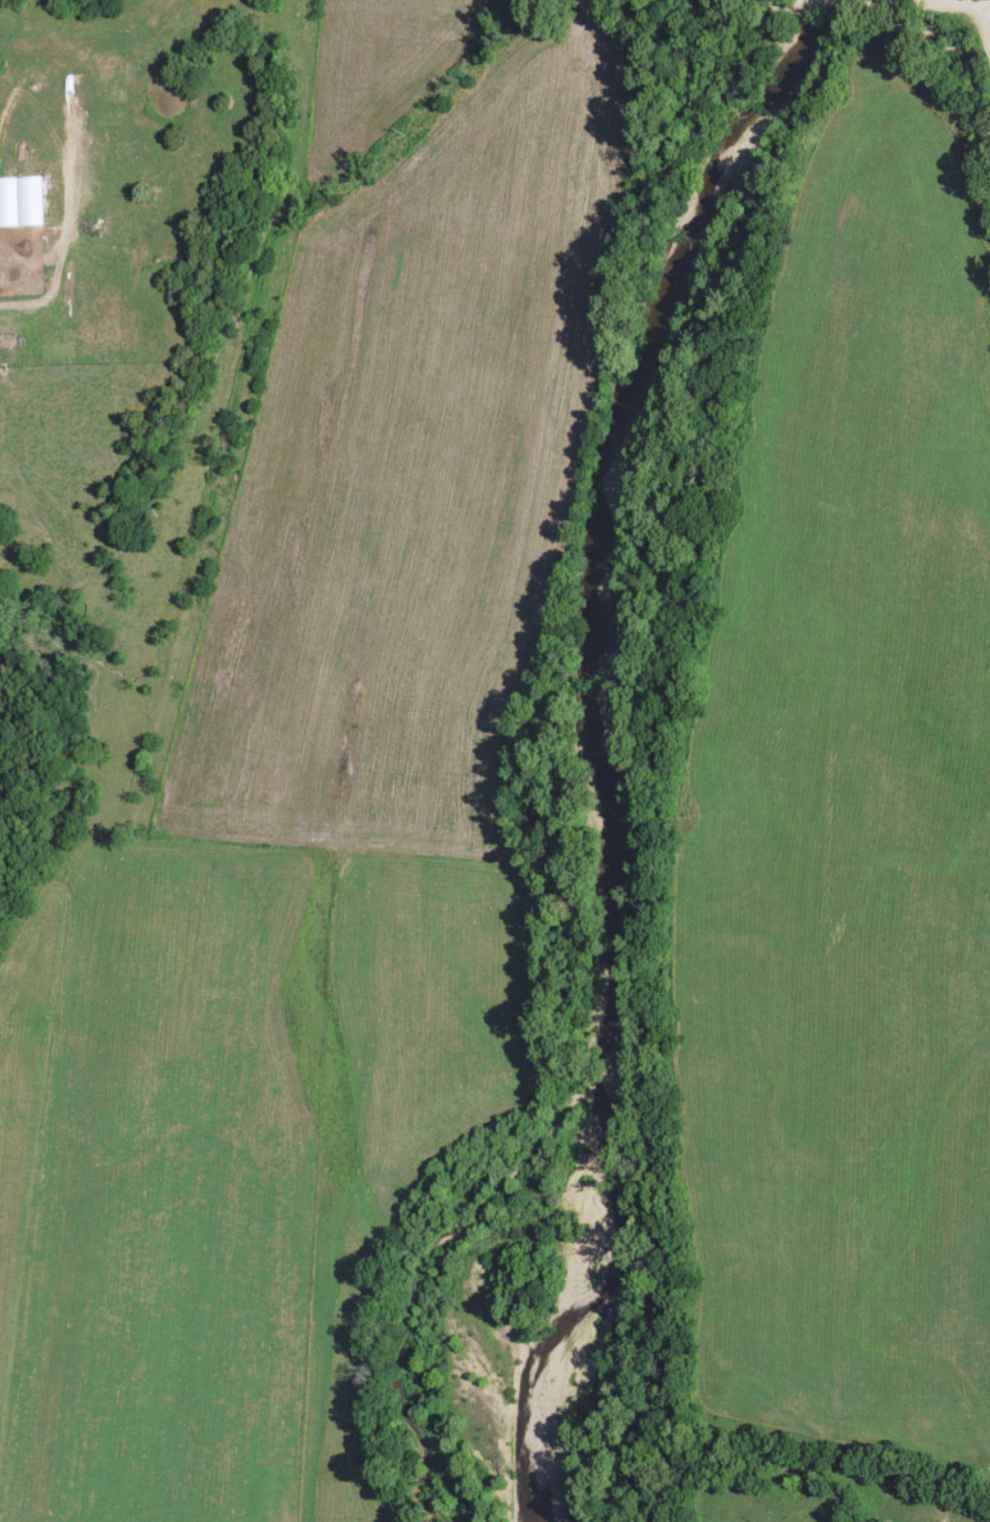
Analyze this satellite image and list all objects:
road: (821, 0)
road: (915, 1)
road: (985, 12)

